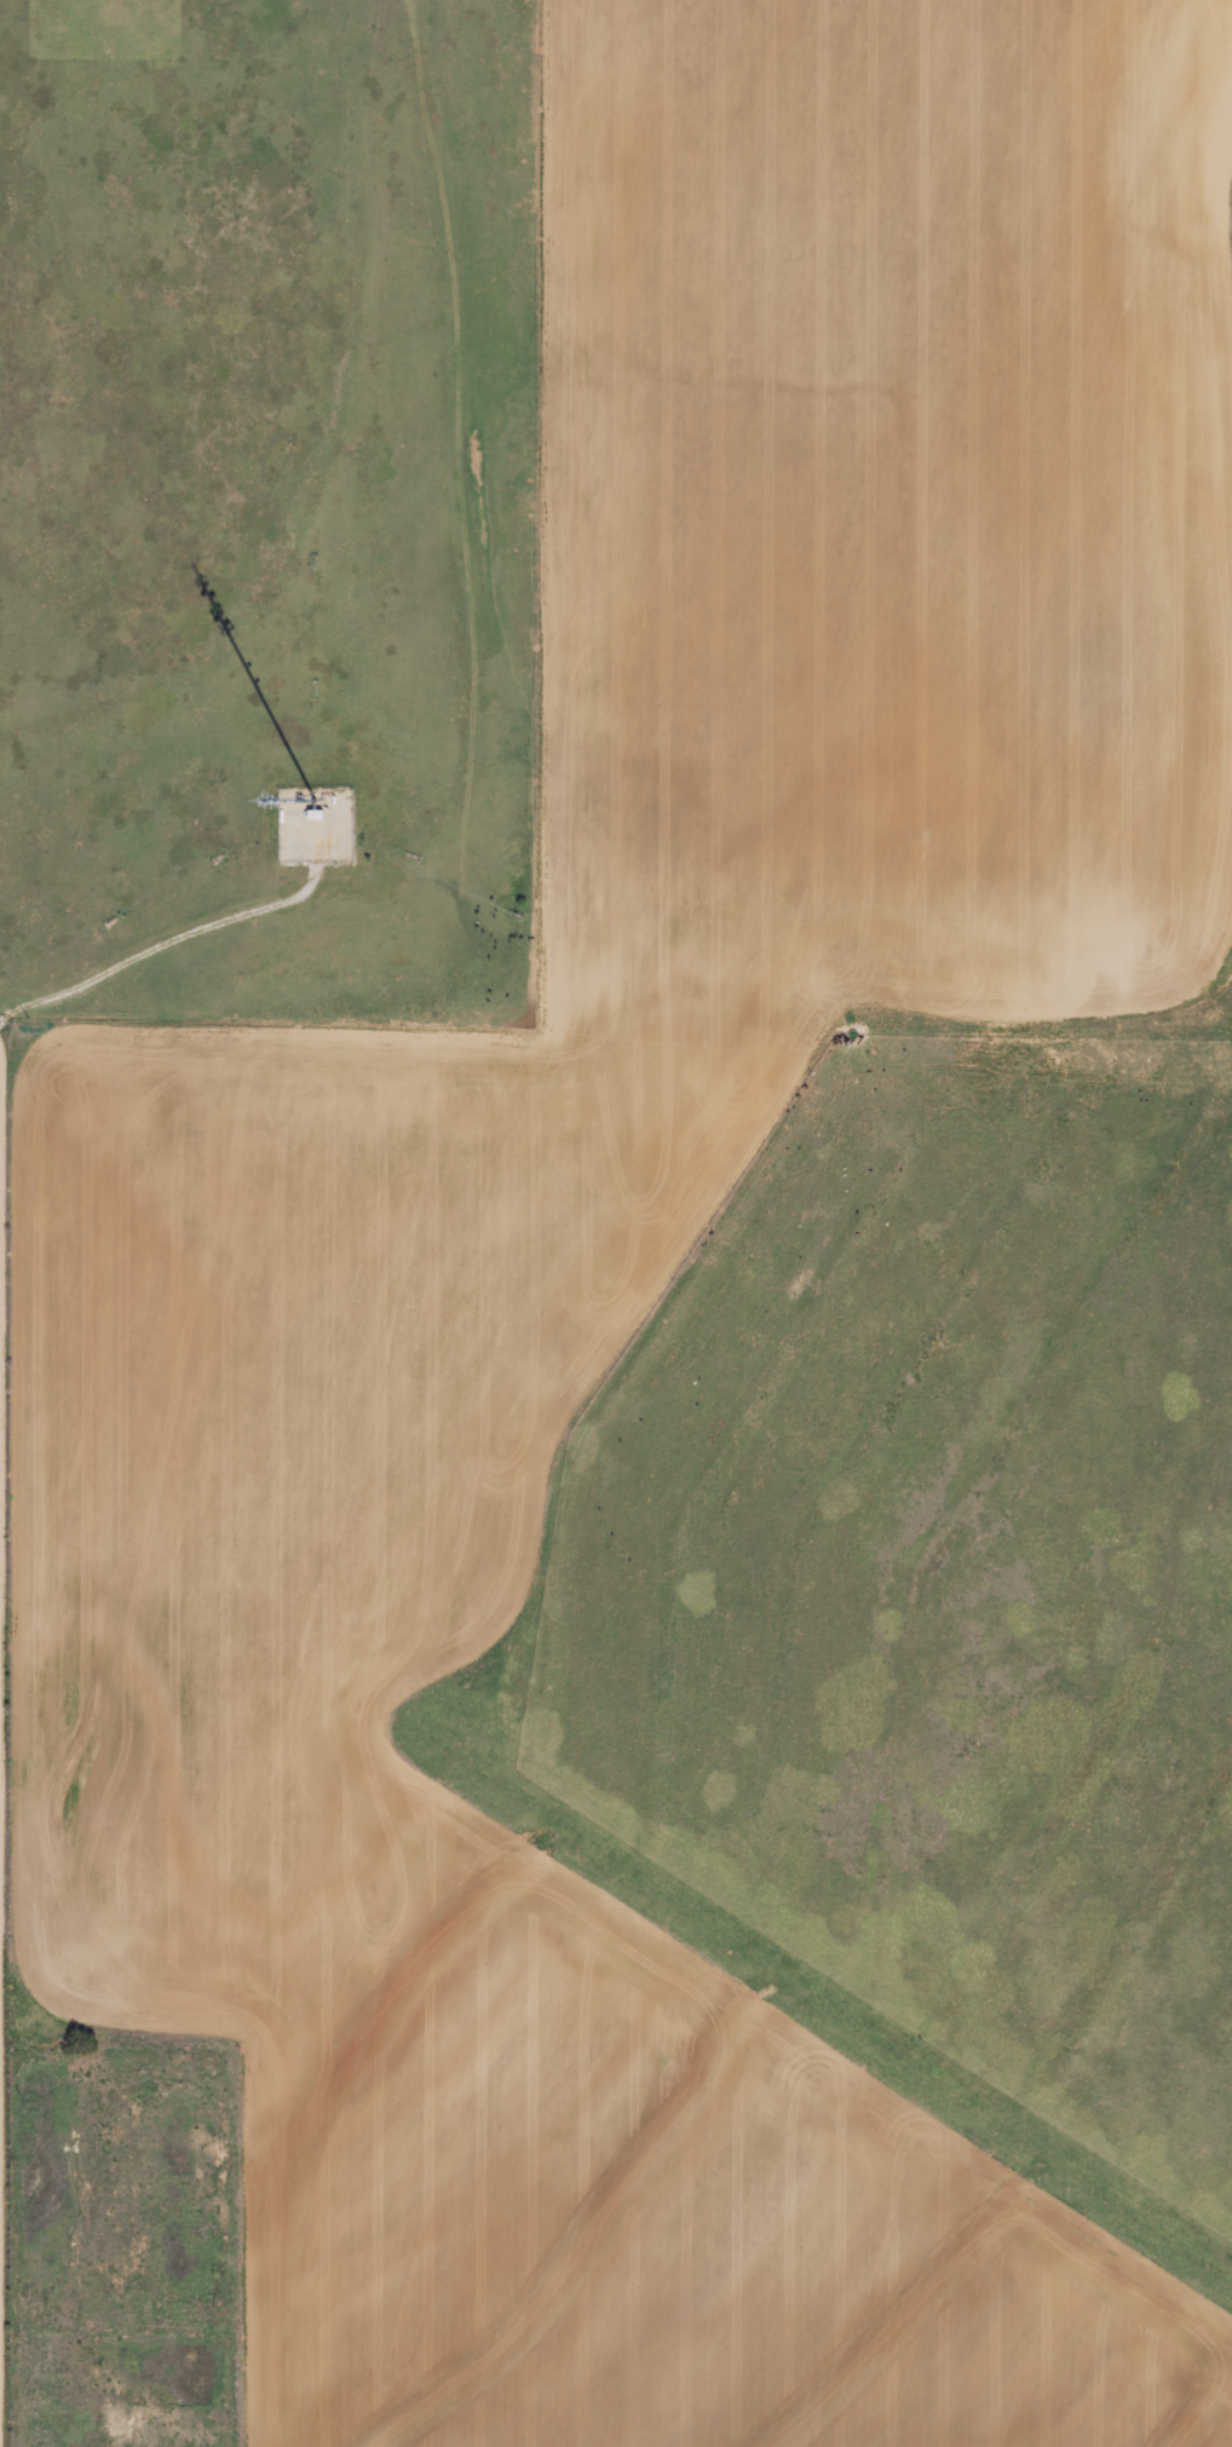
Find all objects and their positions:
road: (0, 1746)

